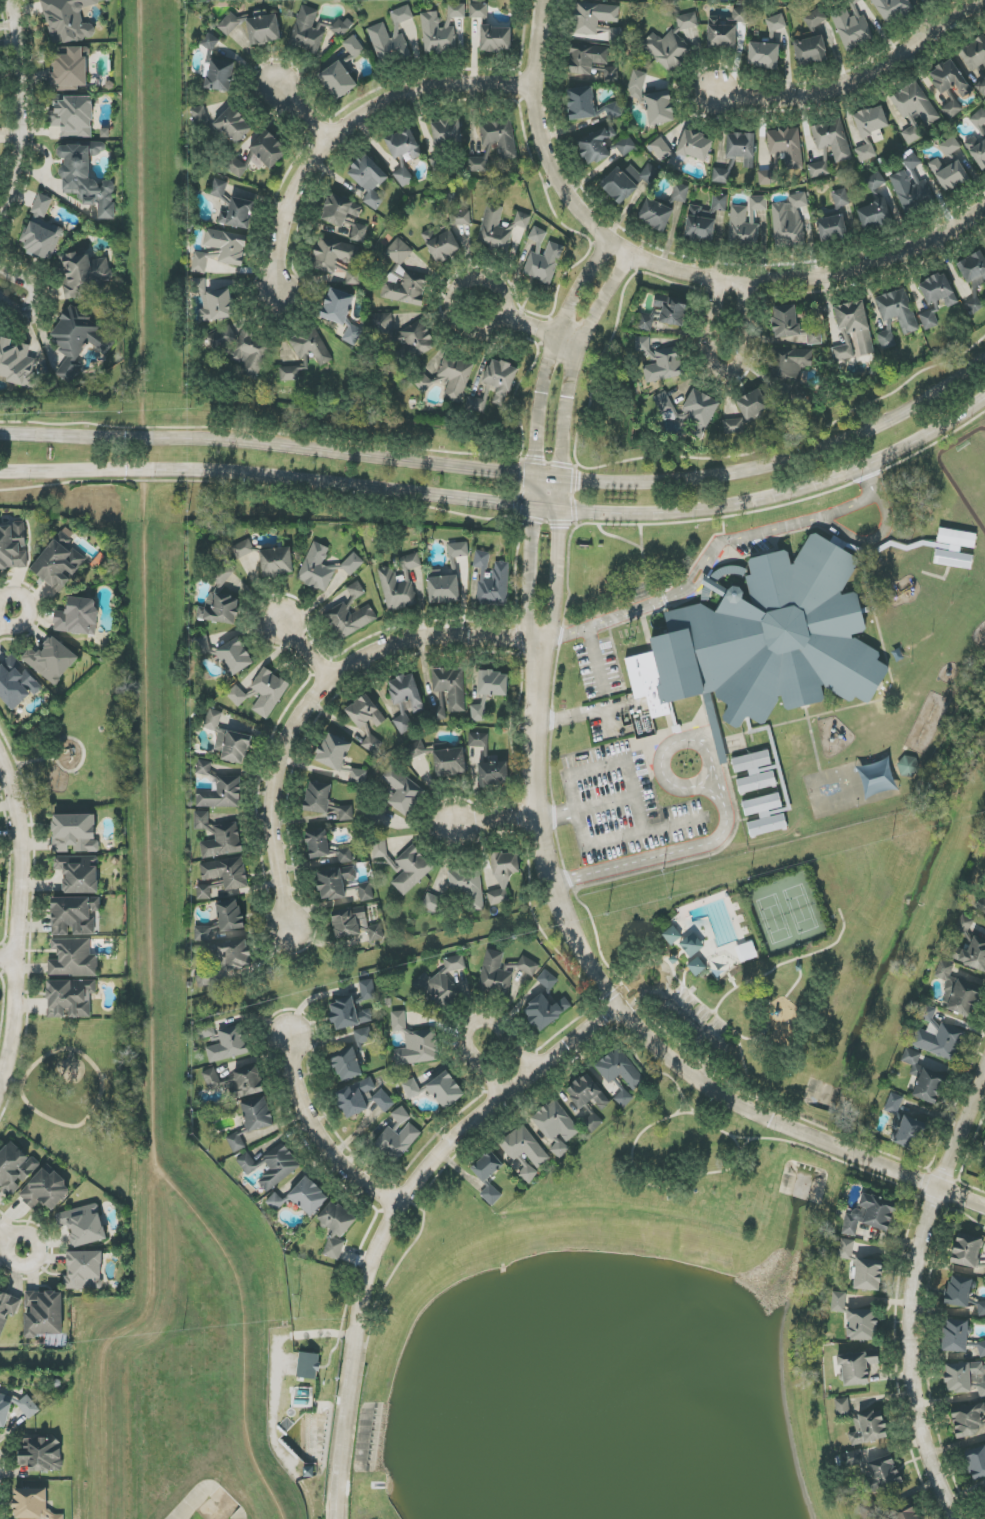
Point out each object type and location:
building: (923, 1)
building: (892, 8)
building: (456, 11)
building: (479, 11)
building: (740, 16)
building: (593, 17)
building: (815, 19)
building: (68, 20)
building: (687, 21)
building: (776, 23)
building: (230, 24)
building: (852, 25)
building: (342, 28)
building: (264, 29)
building: (307, 31)
building: (437, 34)
building: (615, 34)
building: (721, 34)
building: (391, 37)
building: (496, 39)
building: (210, 42)
building: (354, 46)
building: (667, 49)
building: (811, 51)
building: (974, 53)
building: (764, 55)
building: (586, 59)
building: (70, 70)
building: (611, 74)
building: (220, 75)
building: (949, 79)
building: (338, 80)
building: (637, 84)
road: (860, 86)
building: (981, 87)
building: (915, 104)
building: (587, 105)
road: (18, 108)
building: (659, 108)
building: (952, 109)
road: (301, 115)
building: (73, 116)
building: (199, 116)
building: (871, 121)
building: (232, 124)
road: (348, 126)
building: (447, 132)
building: (833, 139)
building: (403, 144)
building: (596, 145)
building: (625, 146)
building: (786, 146)
building: (950, 146)
building: (686, 147)
building: (742, 148)
building: (269, 149)
building: (507, 151)
building: (865, 151)
building: (977, 152)
building: (819, 169)
building: (949, 174)
building: (403, 176)
building: (86, 177)
building: (768, 177)
building: (369, 179)
building: (875, 181)
building: (621, 185)
building: (911, 186)
building: (219, 188)
building: (680, 193)
building: (841, 198)
building: (758, 203)
building: (238, 214)
building: (655, 214)
building: (875, 214)
building: (460, 218)
building: (522, 220)
building: (704, 220)
building: (789, 221)
building: (742, 228)
building: (832, 228)
building: (494, 230)
building: (41, 231)
building: (441, 243)
building: (220, 251)
building: (334, 254)
building: (543, 257)
road: (669, 270)
building: (84, 275)
building: (353, 276)
building: (403, 278)
building: (974, 279)
building: (938, 290)
road: (35, 299)
building: (213, 301)
building: (338, 306)
building: (899, 312)
building: (665, 313)
building: (930, 317)
building: (794, 325)
road: (529, 327)
building: (853, 332)
building: (403, 333)
building: (886, 338)
building: (79, 340)
building: (643, 345)
building: (240, 349)
road: (552, 352)
building: (306, 355)
building: (17, 364)
building: (664, 365)
building: (792, 369)
road: (726, 372)
road: (572, 376)
building: (501, 380)
building: (479, 402)
building: (663, 402)
building: (701, 411)
building: (747, 412)
road: (505, 473)
road: (503, 503)
road: (871, 540)
building: (13, 546)
building: (955, 548)
building: (243, 549)
building: (458, 550)
road: (713, 550)
road: (529, 559)
building: (60, 561)
building: (277, 562)
road: (559, 578)
building: (492, 579)
building: (404, 584)
building: (444, 589)
building: (356, 590)
building: (221, 610)
building: (78, 617)
road: (6, 618)
building: (349, 620)
building: (766, 641)
building: (203, 645)
road: (305, 652)
building: (235, 656)
building: (51, 660)
building: (15, 683)
building: (493, 683)
building: (451, 686)
building: (268, 692)
building: (236, 695)
building: (405, 700)
road: (316, 702)
building: (439, 710)
building: (479, 711)
road: (579, 716)
building: (367, 721)
building: (228, 739)
building: (479, 740)
building: (416, 750)
building: (334, 752)
building: (450, 762)
building: (755, 772)
building: (494, 773)
road: (630, 775)
building: (359, 776)
road: (676, 786)
building: (403, 790)
building: (318, 797)
building: (346, 813)
building: (765, 815)
road: (497, 822)
building: (75, 833)
building: (218, 836)
building: (318, 844)
building: (380, 848)
road: (669, 852)
building: (345, 856)
building: (411, 870)
building: (79, 874)
building: (504, 877)
building: (234, 879)
building: (335, 882)
building: (467, 887)
building: (366, 892)
building: (432, 904)
building: (981, 904)
road: (17, 913)
building: (74, 915)
building: (230, 915)
building: (964, 924)
building: (355, 926)
building: (203, 933)
building: (692, 945)
park: (750, 946)
building: (747, 951)
building: (974, 955)
building: (73, 958)
road: (7, 960)
building: (224, 962)
building: (528, 966)
building: (696, 966)
building: (495, 973)
building: (547, 980)
building: (439, 986)
building: (368, 990)
building: (958, 991)
road: (4, 994)
building: (70, 998)
road: (614, 1002)
building: (547, 1010)
building: (348, 1014)
road: (473, 1024)
building: (206, 1030)
building: (364, 1036)
building: (938, 1037)
building: (414, 1043)
building: (229, 1044)
building: (913, 1061)
building: (347, 1064)
building: (620, 1069)
road: (3, 1077)
building: (211, 1078)
road: (984, 1079)
road: (12, 1080)
building: (245, 1083)
building: (929, 1086)
building: (411, 1089)
building: (588, 1093)
road: (101, 1095)
building: (623, 1096)
building: (362, 1098)
building: (894, 1104)
building: (258, 1114)
building: (401, 1115)
building: (556, 1125)
road: (318, 1132)
building: (910, 1133)
building: (398, 1140)
building: (236, 1142)
building: (524, 1146)
building: (983, 1149)
park: (665, 1162)
building: (248, 1163)
building: (487, 1166)
building: (15, 1168)
building: (279, 1168)
building: (527, 1172)
building: (46, 1189)
building: (491, 1194)
building: (308, 1196)
road: (961, 1197)
building: (276, 1201)
road: (413, 1203)
building: (870, 1214)
road: (390, 1215)
building: (83, 1225)
building: (336, 1229)
road: (421, 1230)
road: (11, 1241)
building: (846, 1249)
building: (967, 1251)
building: (84, 1270)
building: (868, 1274)
building: (960, 1291)
road: (914, 1294)
building: (838, 1302)
building: (7, 1308)
building: (981, 1308)
building: (44, 1313)
building: (862, 1325)
building: (955, 1336)
road: (361, 1344)
building: (981, 1348)
building: (308, 1366)
building: (856, 1368)
building: (965, 1377)
building: (28, 1406)
building: (842, 1407)
building: (4, 1411)
building: (969, 1420)
building: (868, 1427)
building: (42, 1455)
building: (976, 1461)
building: (875, 1469)
building: (984, 1495)
building: (33, 1504)
building: (908, 1514)

